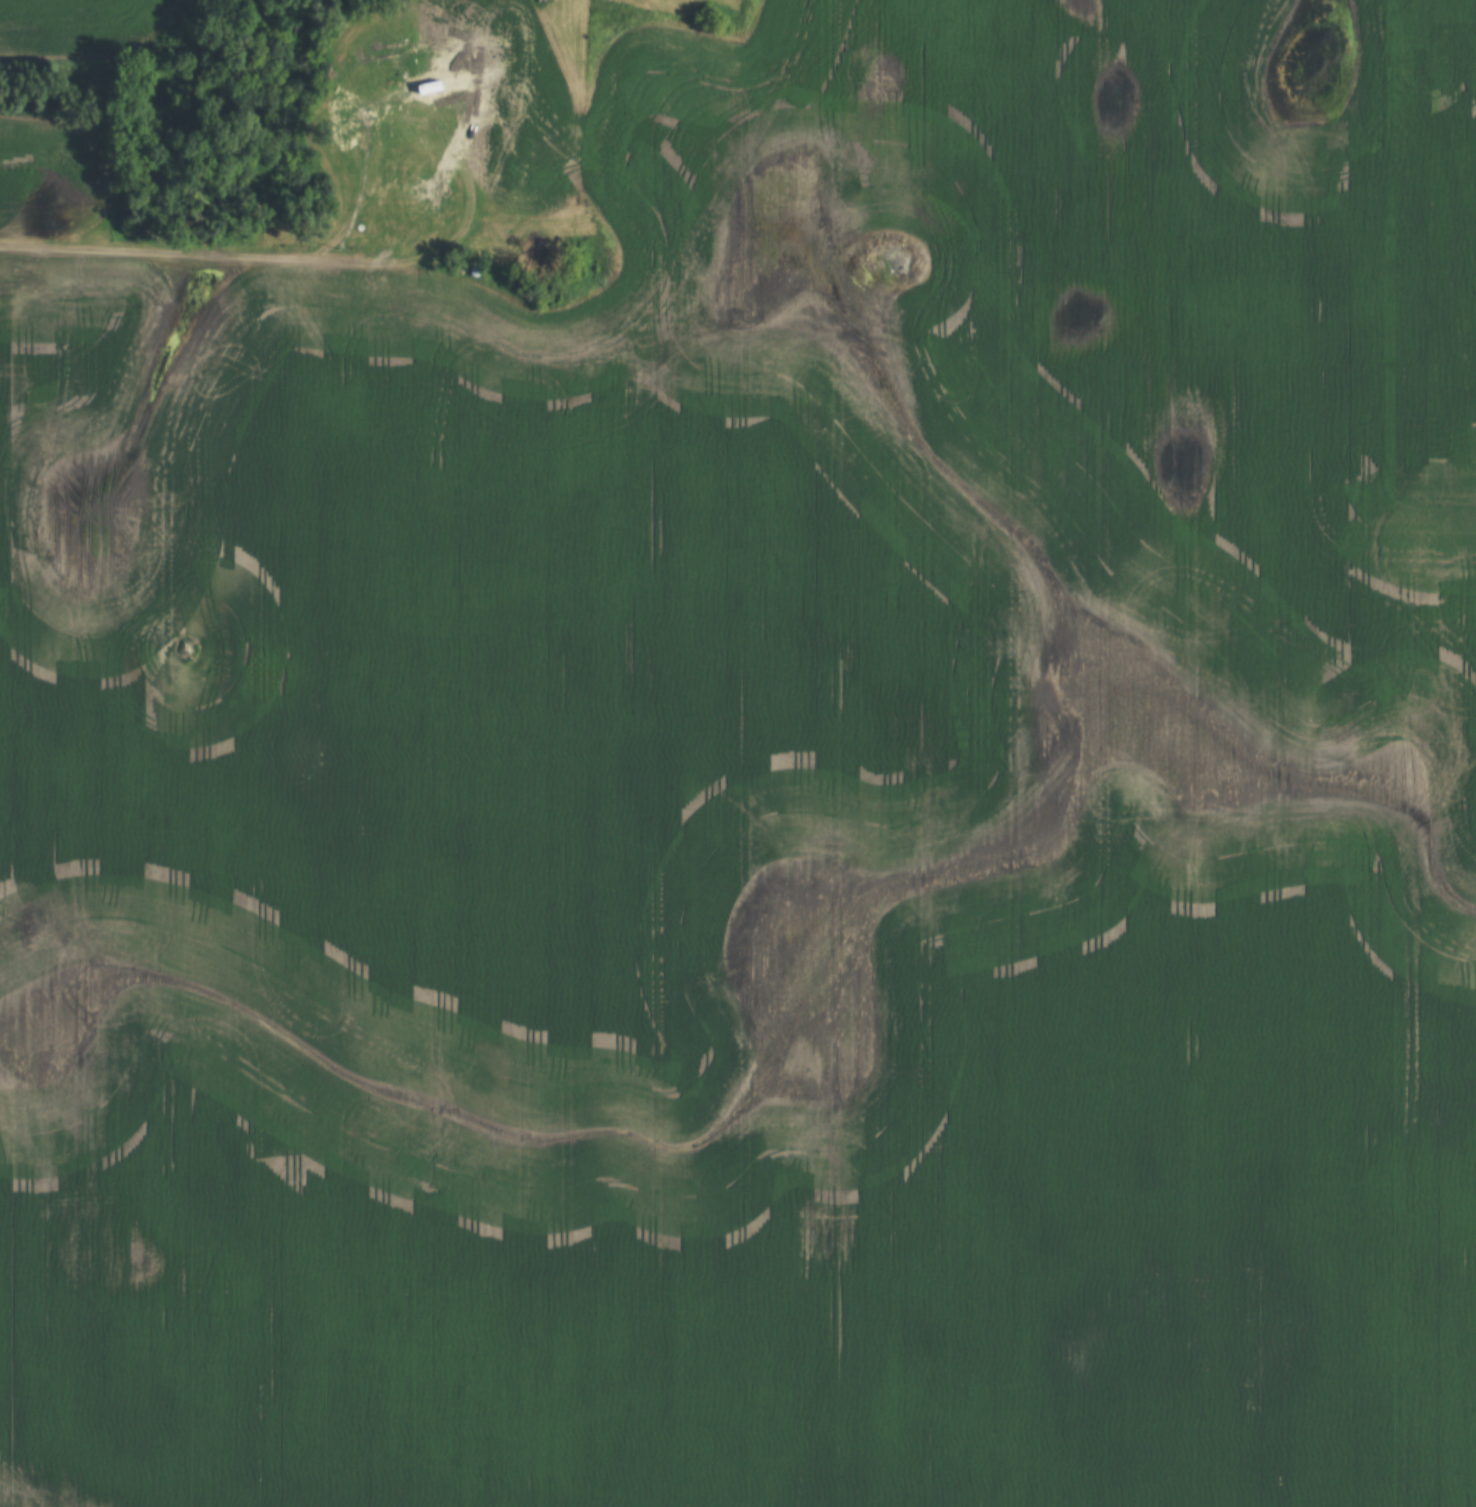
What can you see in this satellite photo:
building: (387, 169)
road: (271, 256)
road: (916, 555)

